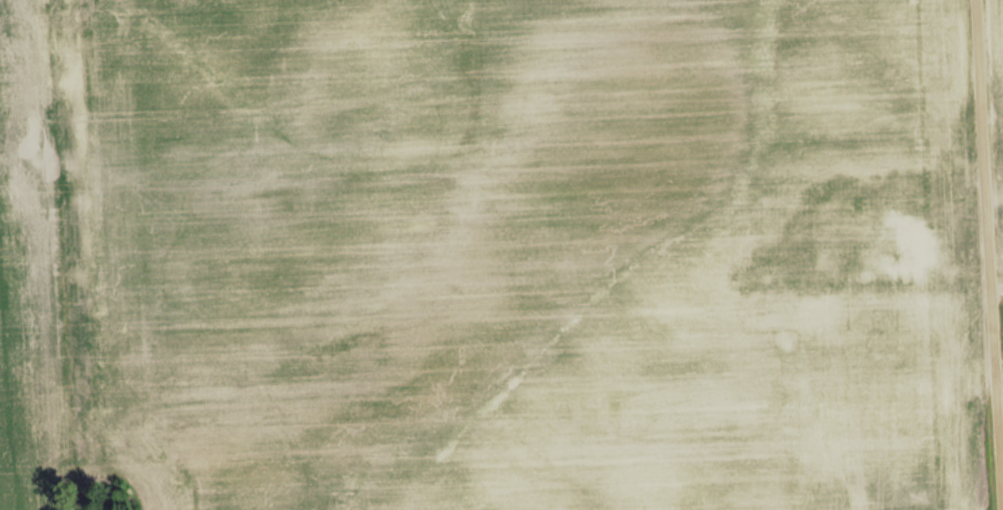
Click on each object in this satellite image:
building: (924, 255)
road: (990, 255)

